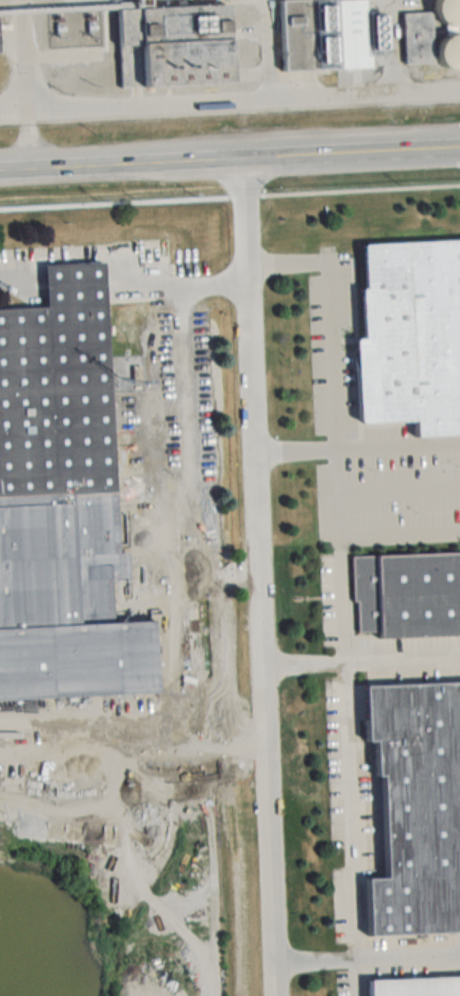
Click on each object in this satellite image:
building: (450, 13)
power substation: (75, 27)
building: (309, 36)
building: (417, 39)
building: (168, 44)
building: (452, 57)
road: (25, 86)
road: (244, 102)
road: (14, 113)
road: (310, 157)
road: (81, 170)
road: (17, 280)
road: (146, 287)
road: (330, 311)
building: (411, 335)
building: (58, 385)
road: (182, 430)
road: (356, 447)
road: (73, 516)
road: (141, 577)
road: (257, 578)
building: (407, 595)
road: (76, 644)
road: (360, 660)
road: (345, 722)
building: (5, 743)
building: (416, 809)
road: (366, 956)
building: (416, 987)

